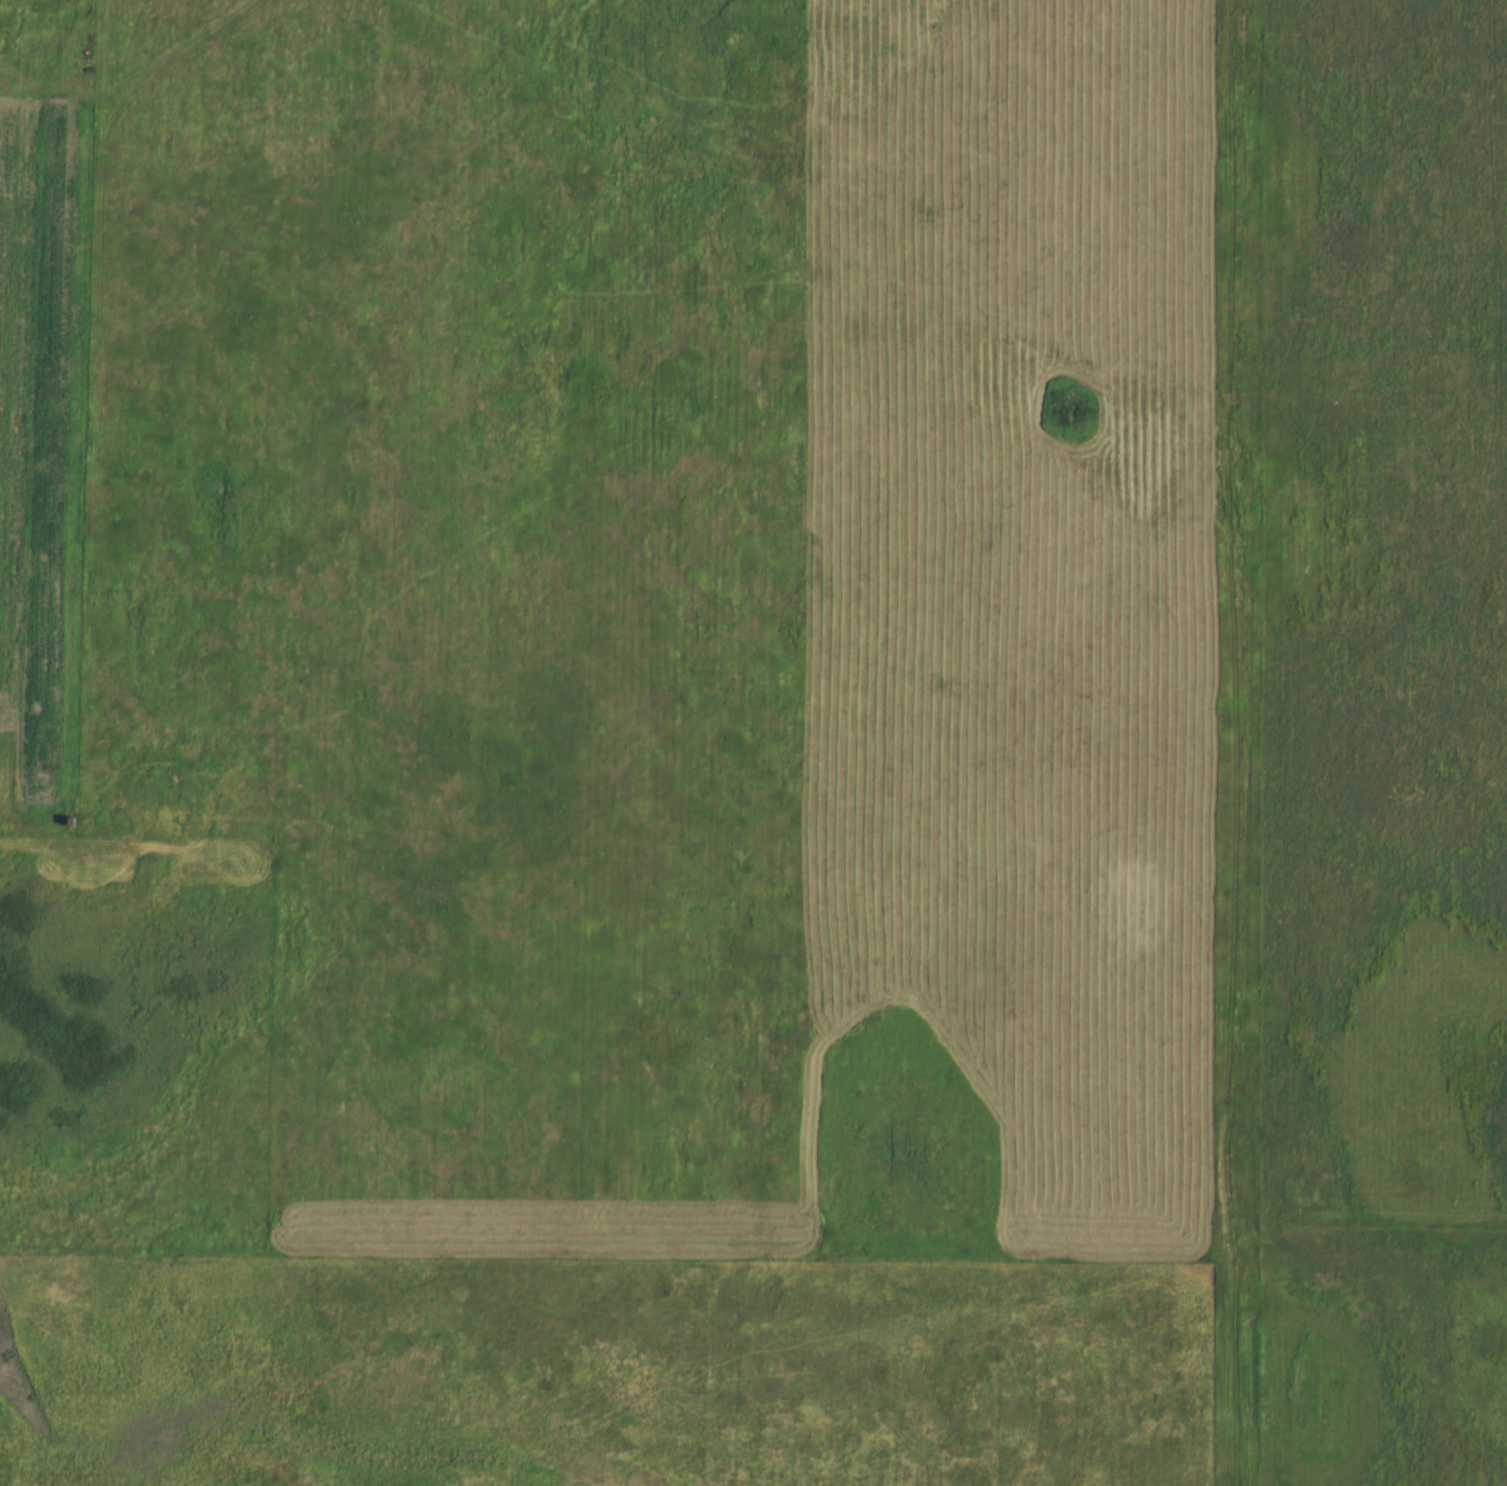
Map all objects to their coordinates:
road: (1232, 743)

